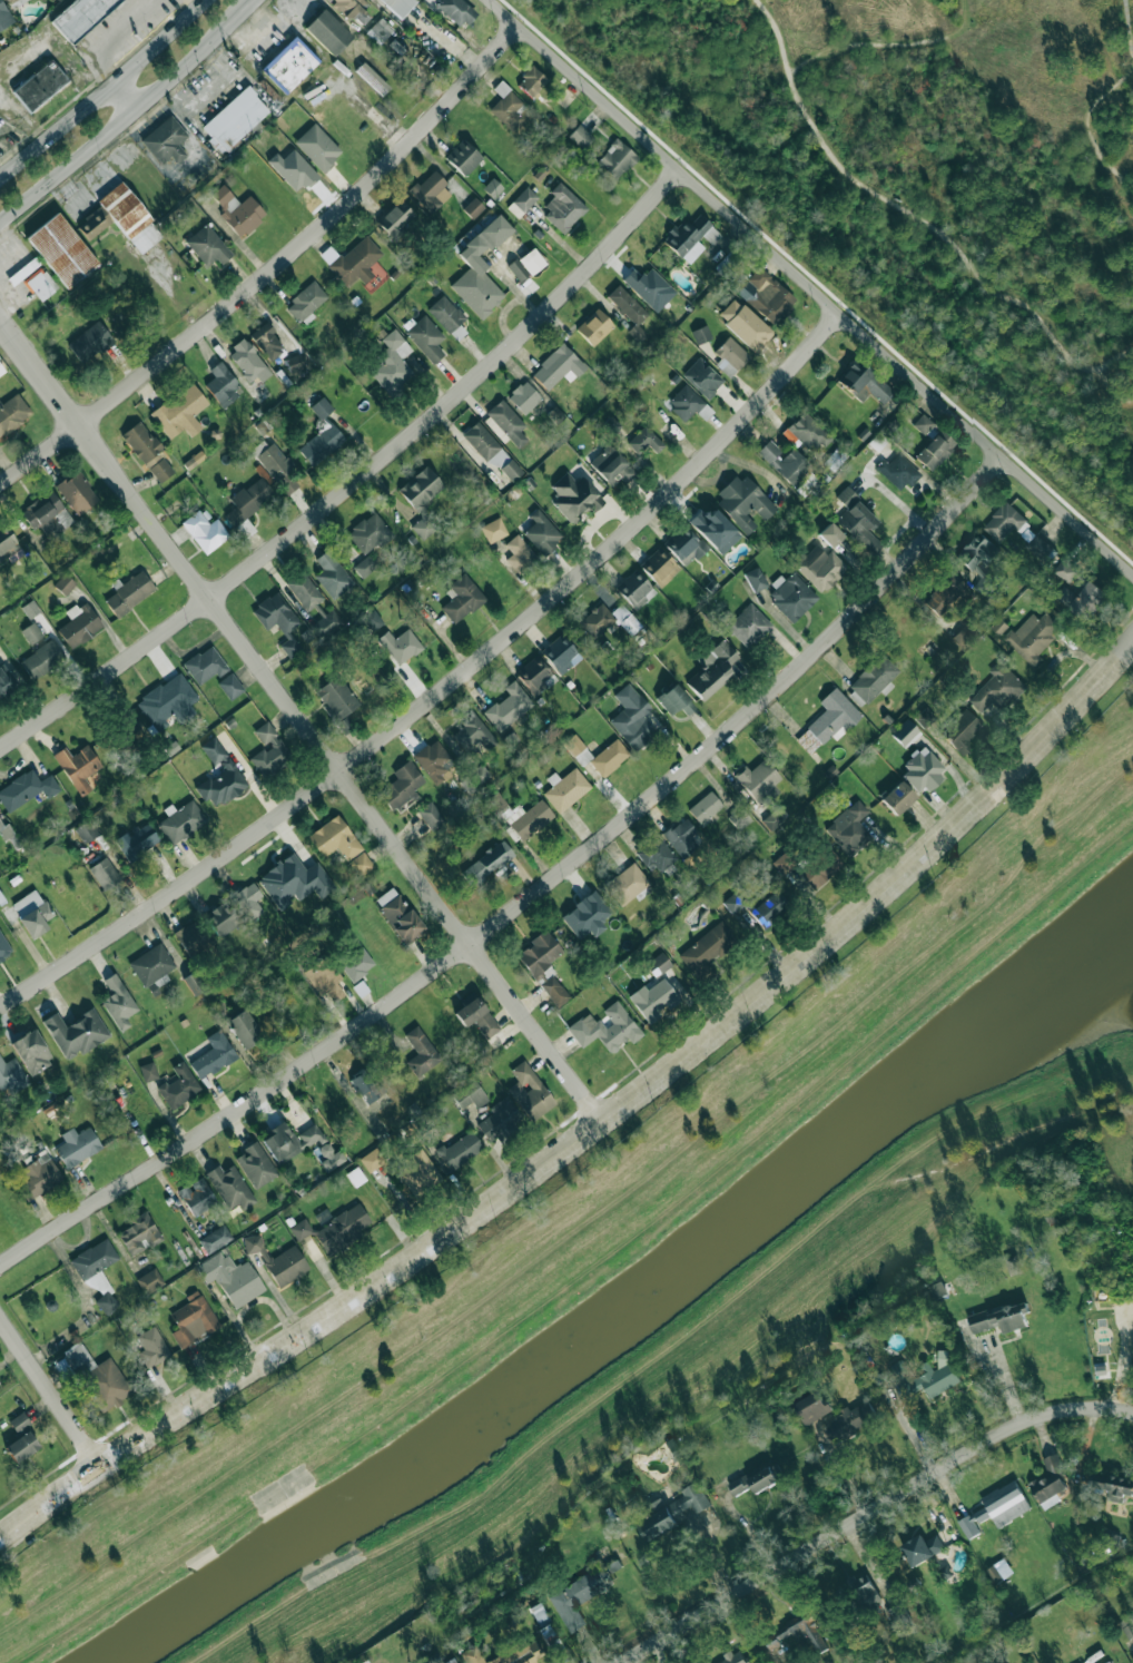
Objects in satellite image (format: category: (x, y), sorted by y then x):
road: (196, 2)
building: (397, 6)
building: (351, 9)
building: (455, 11)
building: (4, 16)
building: (79, 17)
road: (1129, 28)
building: (378, 30)
building: (327, 31)
road: (110, 39)
road: (888, 43)
building: (288, 65)
road: (1129, 73)
building: (372, 78)
road: (1121, 80)
building: (39, 86)
building: (539, 87)
road: (213, 89)
road: (104, 91)
road: (127, 97)
building: (505, 106)
road: (130, 117)
building: (235, 118)
building: (580, 136)
building: (165, 140)
road: (1094, 145)
building: (317, 146)
building: (463, 157)
building: (617, 159)
building: (293, 168)
building: (492, 187)
park: (920, 189)
building: (431, 191)
building: (522, 201)
building: (473, 207)
building: (562, 207)
building: (237, 210)
building: (130, 217)
road: (918, 218)
building: (395, 219)
building: (92, 223)
building: (690, 236)
building: (207, 245)
building: (61, 249)
building: (356, 260)
building: (525, 264)
building: (480, 268)
road: (273, 269)
building: (39, 284)
building: (647, 285)
road: (811, 287)
building: (768, 296)
building: (306, 302)
building: (627, 306)
building: (445, 313)
building: (594, 327)
building: (700, 334)
building: (425, 337)
building: (89, 342)
building: (266, 342)
building: (730, 356)
building: (248, 362)
building: (295, 363)
building: (392, 363)
building: (556, 367)
building: (1, 370)
building: (702, 377)
building: (864, 383)
building: (221, 385)
road: (1110, 391)
building: (523, 396)
building: (688, 403)
building: (322, 407)
building: (12, 412)
building: (180, 412)
building: (506, 422)
building: (923, 424)
building: (807, 432)
building: (644, 440)
building: (322, 444)
building: (935, 450)
building: (492, 451)
building: (147, 452)
building: (786, 463)
building: (274, 464)
building: (611, 466)
building: (898, 472)
road: (358, 478)
building: (77, 492)
building: (574, 495)
building: (846, 496)
building: (421, 499)
building: (743, 502)
building: (247, 503)
building: (48, 515)
building: (859, 525)
building: (715, 529)
building: (493, 530)
building: (204, 531)
building: (541, 531)
building: (368, 532)
building: (830, 534)
building: (7, 543)
building: (684, 545)
building: (519, 554)
building: (979, 561)
building: (365, 565)
building: (659, 567)
building: (820, 568)
building: (332, 574)
building: (755, 579)
building: (634, 589)
building: (304, 590)
building: (128, 593)
building: (948, 593)
building: (791, 596)
building: (461, 598)
building: (1083, 599)
building: (30, 609)
building: (326, 618)
building: (277, 619)
building: (372, 620)
building: (608, 620)
building: (79, 623)
building: (747, 624)
building: (31, 632)
building: (1033, 637)
building: (400, 644)
building: (559, 653)
building: (42, 659)
building: (205, 663)
building: (712, 670)
building: (533, 675)
building: (6, 680)
building: (871, 680)
building: (229, 686)
road: (443, 687)
building: (997, 688)
building: (337, 700)
building: (673, 700)
building: (168, 701)
building: (509, 707)
building: (631, 717)
building: (832, 717)
building: (925, 717)
road: (303, 719)
building: (128, 726)
building: (962, 731)
building: (473, 732)
building: (905, 732)
building: (268, 749)
building: (597, 754)
building: (433, 761)
building: (77, 767)
building: (922, 770)
building: (219, 776)
building: (758, 779)
building: (402, 786)
building: (26, 788)
building: (565, 788)
building: (897, 798)
building: (705, 807)
building: (430, 815)
building: (519, 815)
building: (739, 817)
building: (775, 817)
building: (180, 820)
building: (849, 827)
building: (6, 830)
building: (87, 830)
building: (681, 837)
building: (334, 838)
building: (137, 840)
building: (658, 856)
building: (486, 863)
building: (361, 864)
building: (105, 873)
building: (294, 880)
building: (627, 884)
road: (880, 893)
road: (531, 896)
building: (246, 901)
building: (735, 902)
building: (768, 908)
building: (31, 912)
building: (398, 915)
building: (587, 915)
building: (220, 919)
building: (191, 937)
building: (3, 947)
building: (707, 947)
building: (540, 955)
building: (356, 964)
building: (658, 964)
building: (152, 965)
building: (324, 977)
building: (194, 982)
building: (554, 991)
building: (652, 1000)
building: (118, 1002)
building: (475, 1015)
building: (243, 1027)
building: (605, 1027)
building: (75, 1032)
building: (31, 1051)
building: (420, 1052)
building: (213, 1055)
building: (148, 1071)
building: (10, 1075)
building: (178, 1085)
building: (367, 1085)
building: (529, 1091)
building: (470, 1095)
building: (499, 1119)
building: (295, 1142)
building: (76, 1145)
building: (460, 1150)
building: (372, 1159)
building: (255, 1164)
building: (418, 1172)
building: (38, 1177)
building: (355, 1177)
building: (229, 1187)
building: (196, 1195)
building: (301, 1229)
building: (342, 1229)
building: (138, 1233)
building: (215, 1238)
building: (93, 1258)
building: (277, 1260)
building: (1013, 1266)
building: (230, 1278)
building: (149, 1280)
building: (100, 1283)
building: (106, 1302)
river: (624, 1306)
building: (1001, 1318)
building: (193, 1320)
road: (305, 1331)
building: (151, 1346)
building: (92, 1375)
building: (924, 1378)
road: (51, 1387)
building: (814, 1408)
building: (850, 1420)
building: (19, 1421)
building: (21, 1446)
road: (841, 1472)
building: (757, 1478)
building: (1050, 1483)
building: (1111, 1486)
building: (997, 1508)
building: (672, 1512)
road: (869, 1512)
building: (923, 1548)
building: (997, 1569)
building: (866, 1591)
building: (580, 1593)
building: (1126, 1627)
building: (797, 1633)
building: (506, 1654)
building: (736, 1659)
building: (364, 1661)
building: (452, 1661)

